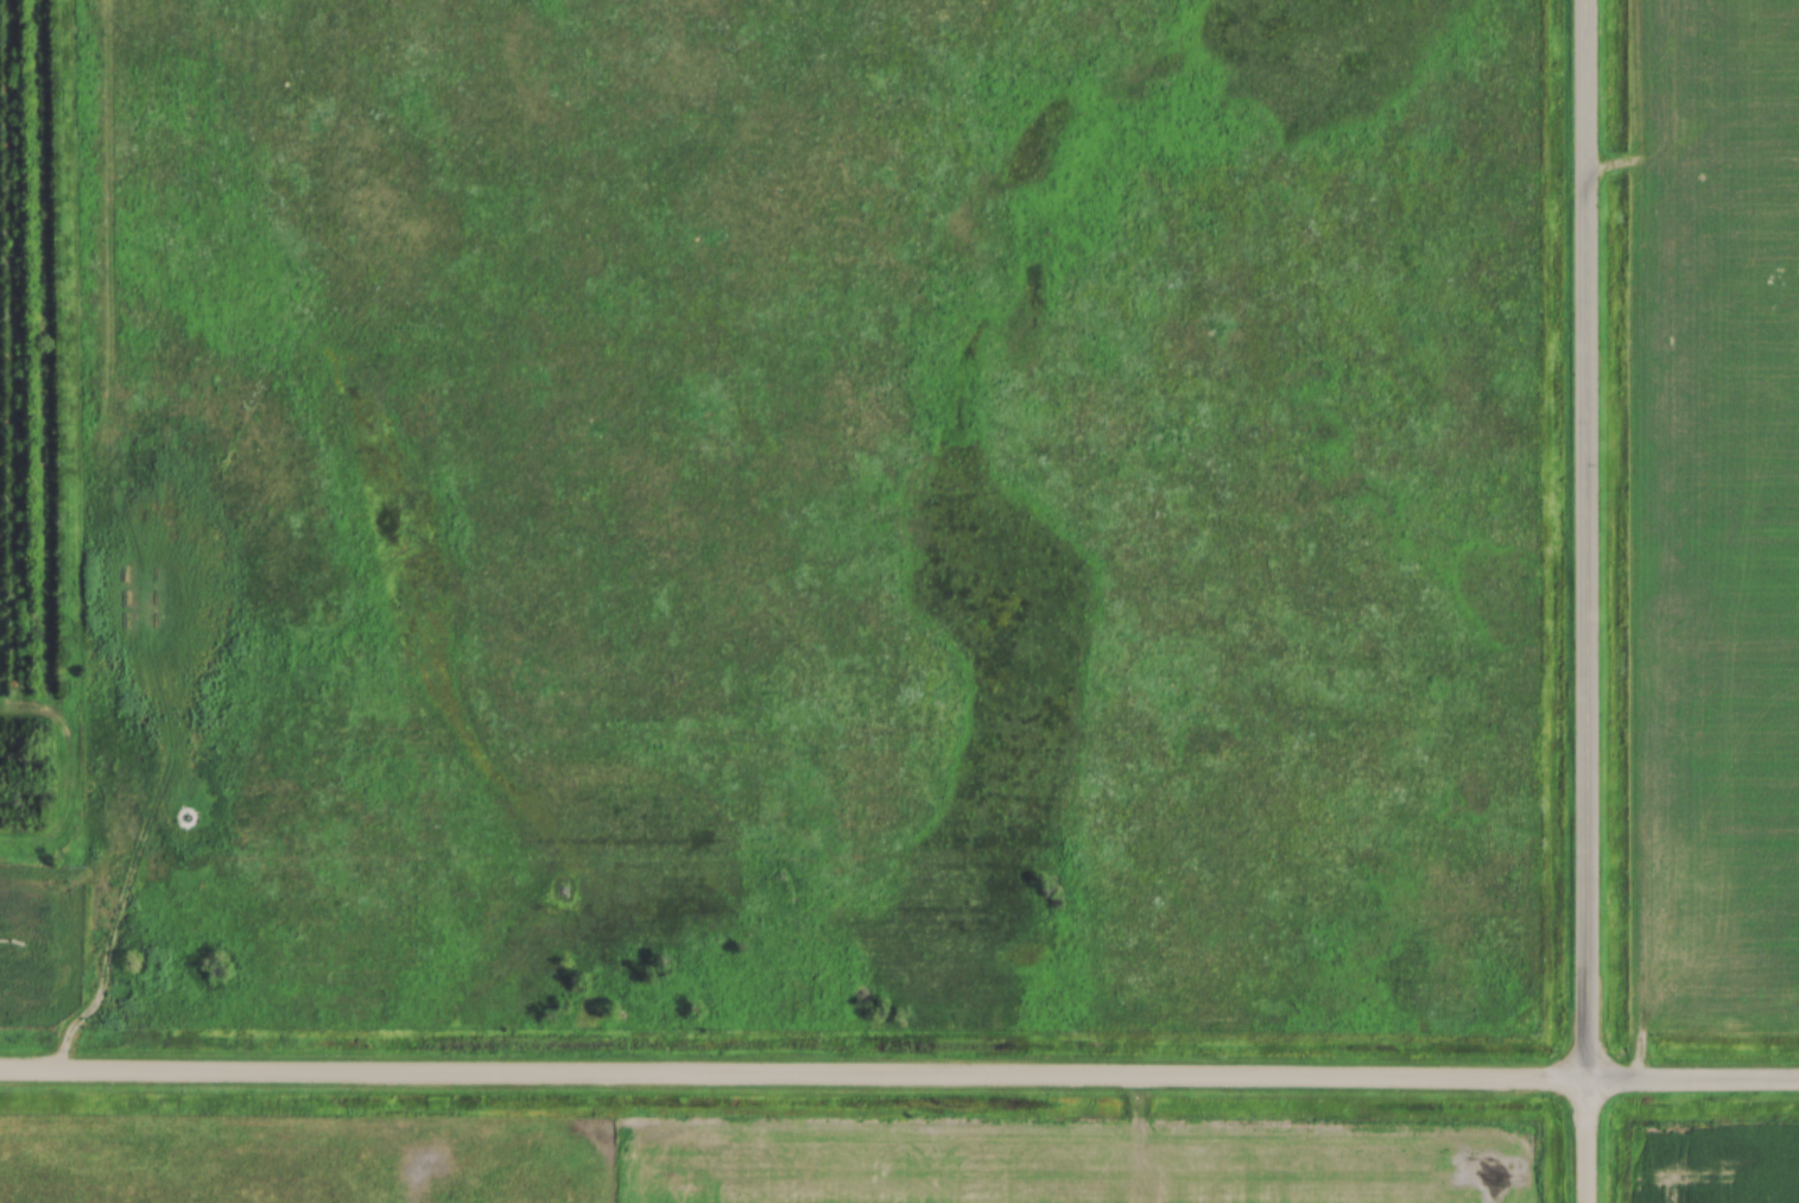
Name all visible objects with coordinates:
road: (1590, 601)
road: (899, 1071)

